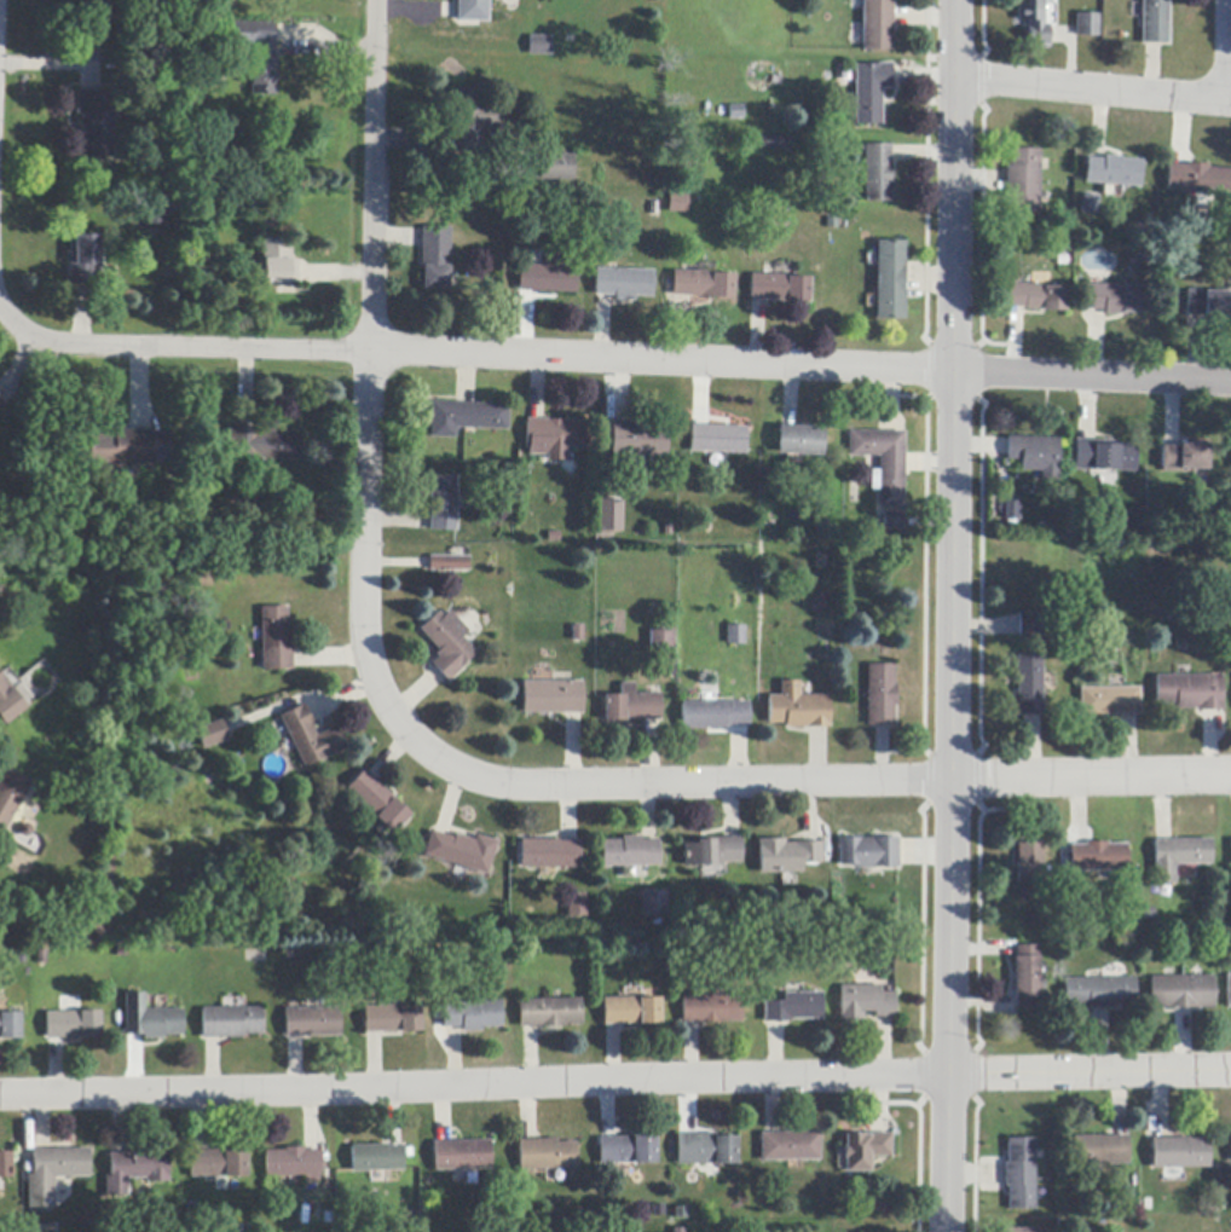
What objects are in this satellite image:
building: (93, 6)
building: (473, 11)
building: (1034, 22)
building: (1155, 22)
building: (877, 25)
building: (1087, 25)
building: (541, 46)
building: (259, 54)
road: (1093, 91)
building: (869, 92)
building: (736, 112)
building: (473, 118)
building: (96, 122)
building: (774, 144)
building: (210, 152)
building: (557, 168)
building: (1112, 172)
building: (878, 173)
building: (1198, 180)
building: (1023, 181)
building: (677, 203)
building: (1090, 203)
building: (157, 220)
building: (435, 258)
building: (85, 259)
building: (278, 264)
building: (549, 274)
building: (890, 280)
building: (625, 284)
building: (703, 285)
building: (780, 288)
building: (1036, 297)
building: (1116, 300)
building: (1208, 306)
road: (1, 316)
road: (613, 361)
road: (365, 370)
building: (0, 403)
building: (0, 405)
building: (467, 418)
building: (554, 436)
building: (638, 440)
building: (718, 440)
building: (799, 441)
building: (262, 446)
building: (127, 450)
building: (1035, 456)
building: (1104, 456)
building: (1183, 458)
building: (883, 463)
building: (640, 485)
building: (443, 504)
building: (1012, 510)
building: (894, 522)
building: (605, 530)
building: (449, 565)
building: (822, 605)
road: (953, 615)
building: (1029, 625)
building: (578, 634)
building: (736, 635)
building: (276, 640)
building: (447, 644)
building: (660, 649)
building: (1029, 686)
building: (1189, 692)
building: (880, 695)
building: (553, 698)
building: (1109, 701)
building: (8, 704)
building: (631, 706)
building: (797, 708)
building: (715, 716)
building: (212, 734)
building: (310, 738)
road: (807, 783)
building: (10, 797)
building: (377, 802)
building: (1230, 850)
building: (461, 851)
building: (629, 852)
building: (712, 852)
building: (867, 854)
building: (549, 855)
building: (786, 856)
building: (1098, 857)
building: (1178, 857)
building: (1029, 873)
building: (651, 901)
building: (576, 906)
building: (96, 930)
building: (335, 956)
building: (1024, 977)
building: (1227, 990)
building: (1098, 993)
building: (1180, 993)
building: (865, 1002)
building: (793, 1008)
building: (711, 1010)
building: (630, 1011)
building: (549, 1013)
building: (472, 1016)
building: (150, 1019)
building: (392, 1019)
building: (231, 1023)
building: (312, 1023)
building: (73, 1025)
building: (10, 1026)
road: (614, 1082)
building: (1230, 1144)
building: (790, 1146)
building: (706, 1150)
building: (1099, 1150)
building: (629, 1151)
building: (865, 1151)
building: (1179, 1153)
building: (547, 1155)
building: (462, 1156)
building: (378, 1159)
building: (220, 1163)
building: (293, 1163)
building: (6, 1166)
building: (135, 1170)
building: (54, 1174)
building: (1019, 1174)
building: (47, 1227)
building: (678, 1231)
building: (1021, 1231)

